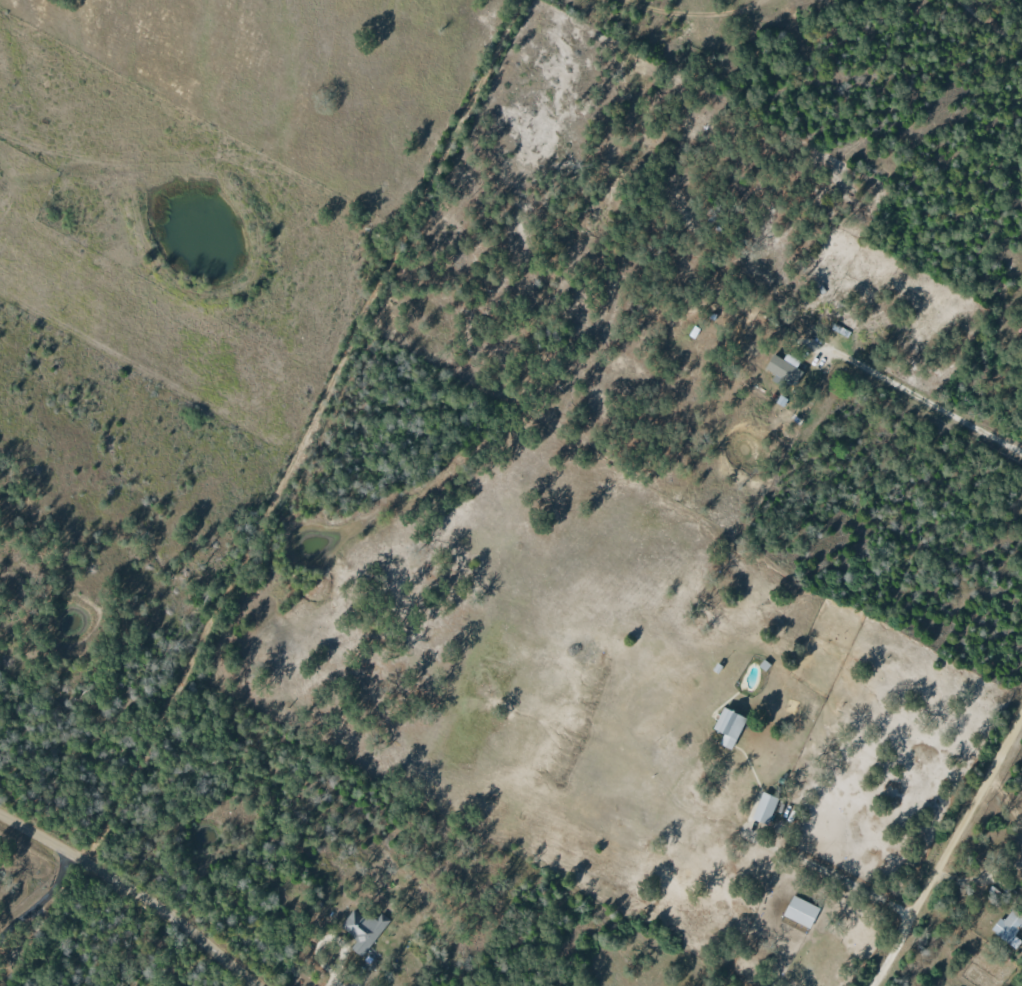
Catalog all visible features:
road: (691, 14)
building: (783, 368)
road: (896, 381)
road: (304, 435)
building: (727, 727)
building: (764, 808)
road: (945, 849)
road: (840, 878)
road: (131, 893)
road: (40, 902)
building: (800, 911)
building: (1008, 928)
building: (363, 929)
road: (325, 940)
road: (214, 974)
road: (333, 981)

